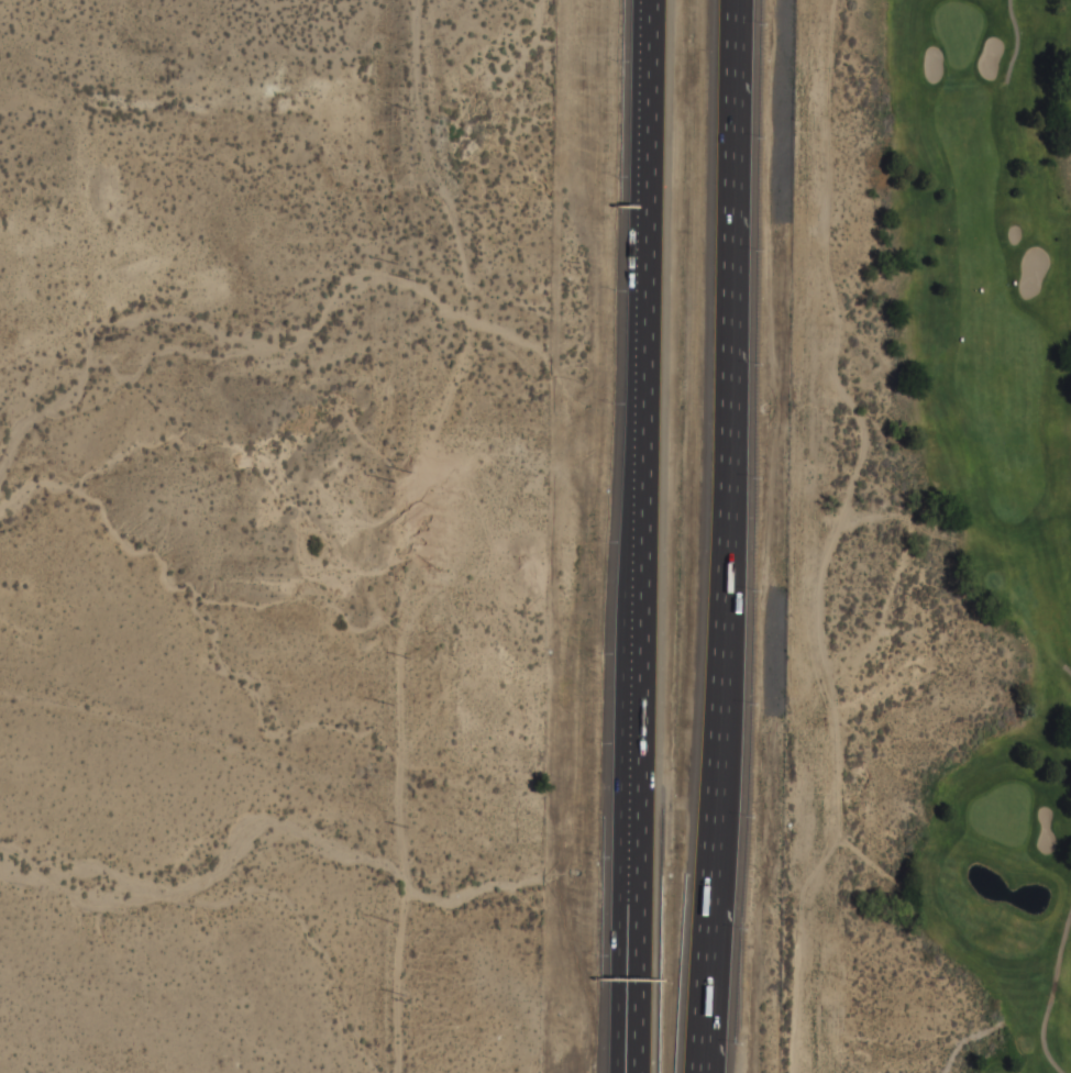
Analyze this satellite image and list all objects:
road: (637, 536)
road: (724, 536)
park: (929, 541)
road: (1068, 670)
road: (1050, 995)

